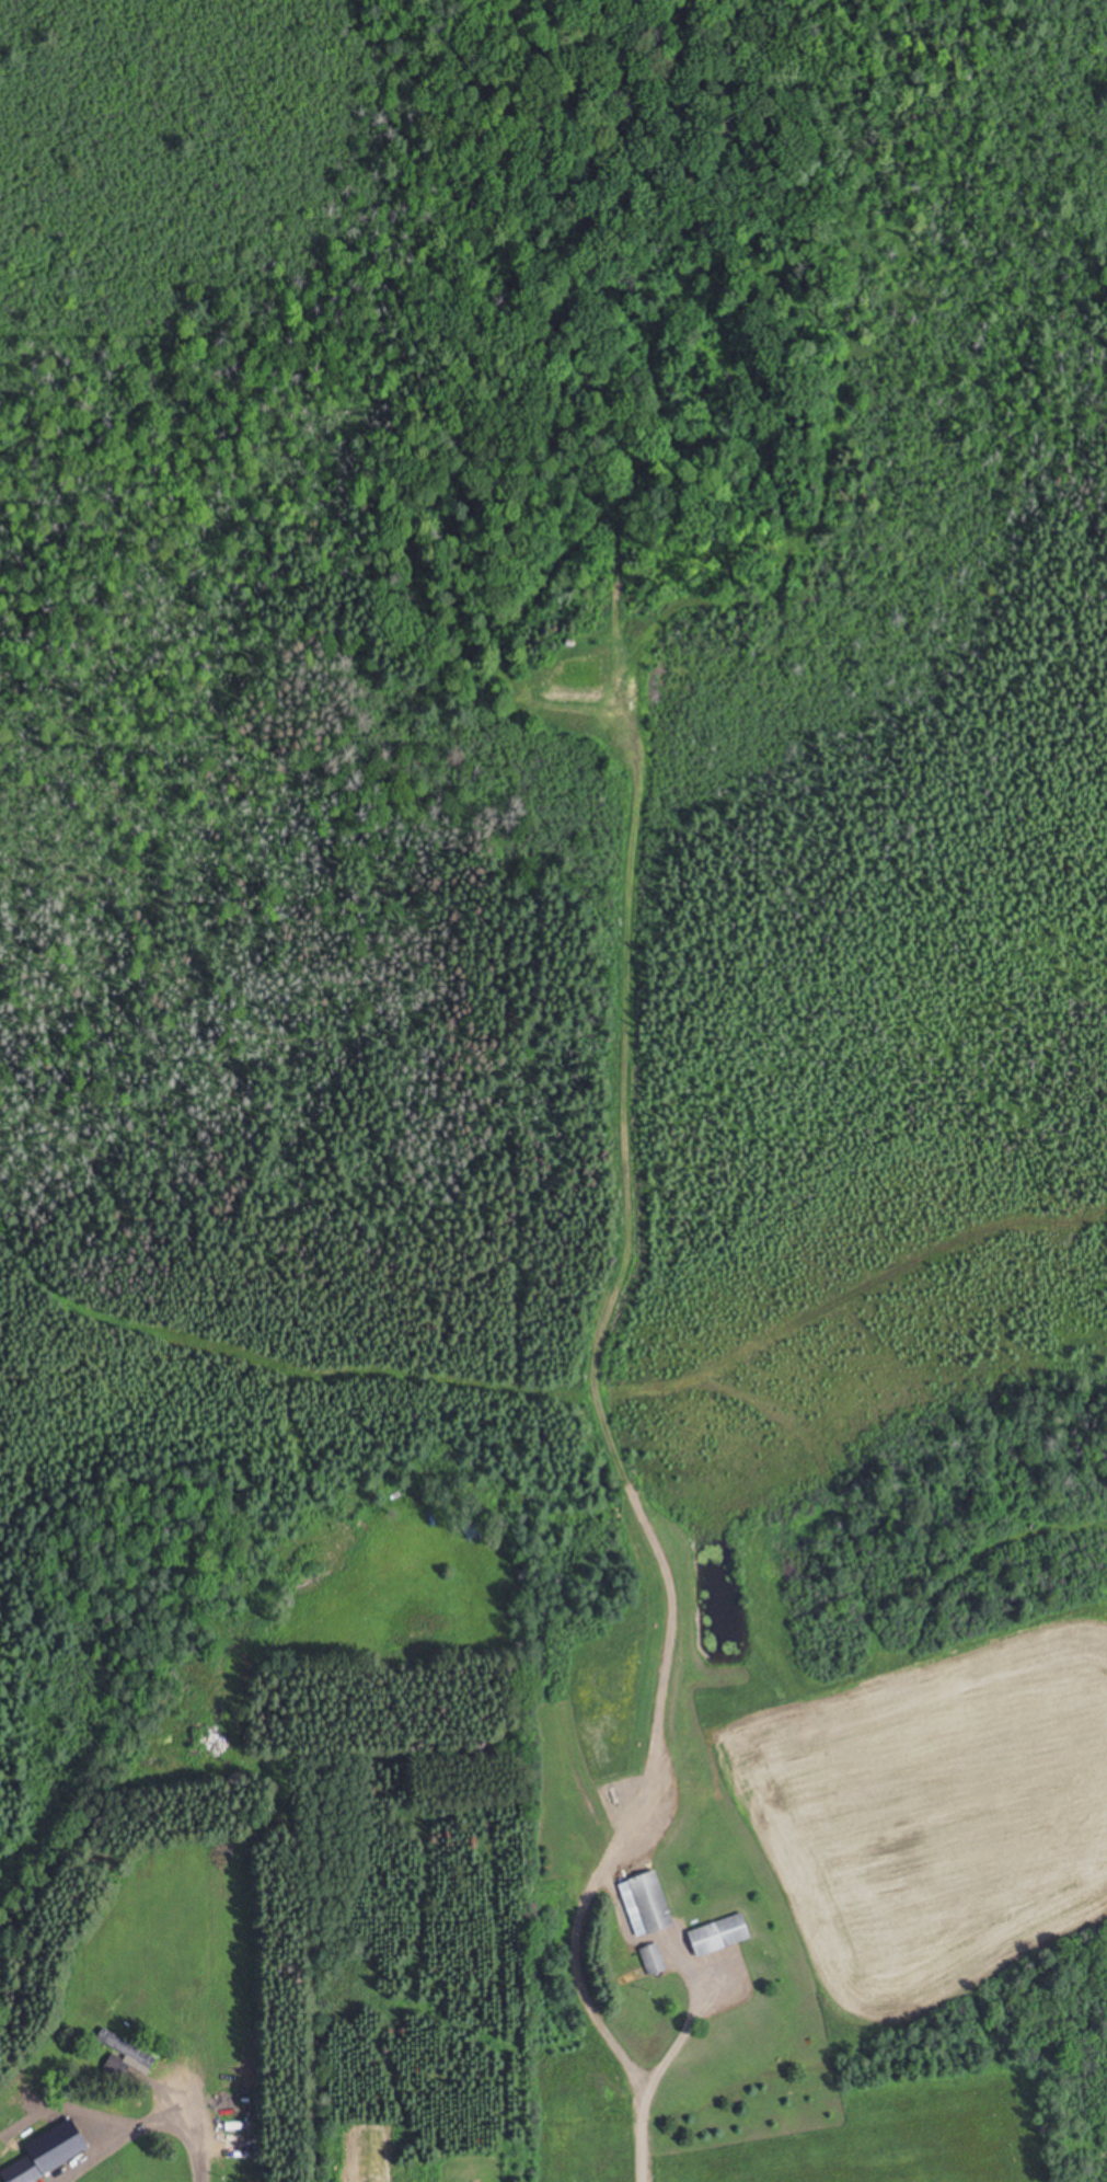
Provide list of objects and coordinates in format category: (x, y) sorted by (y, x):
building: (647, 1904)
building: (720, 1934)
building: (654, 1959)
building: (126, 2056)
building: (243, 2146)
building: (25, 2170)

